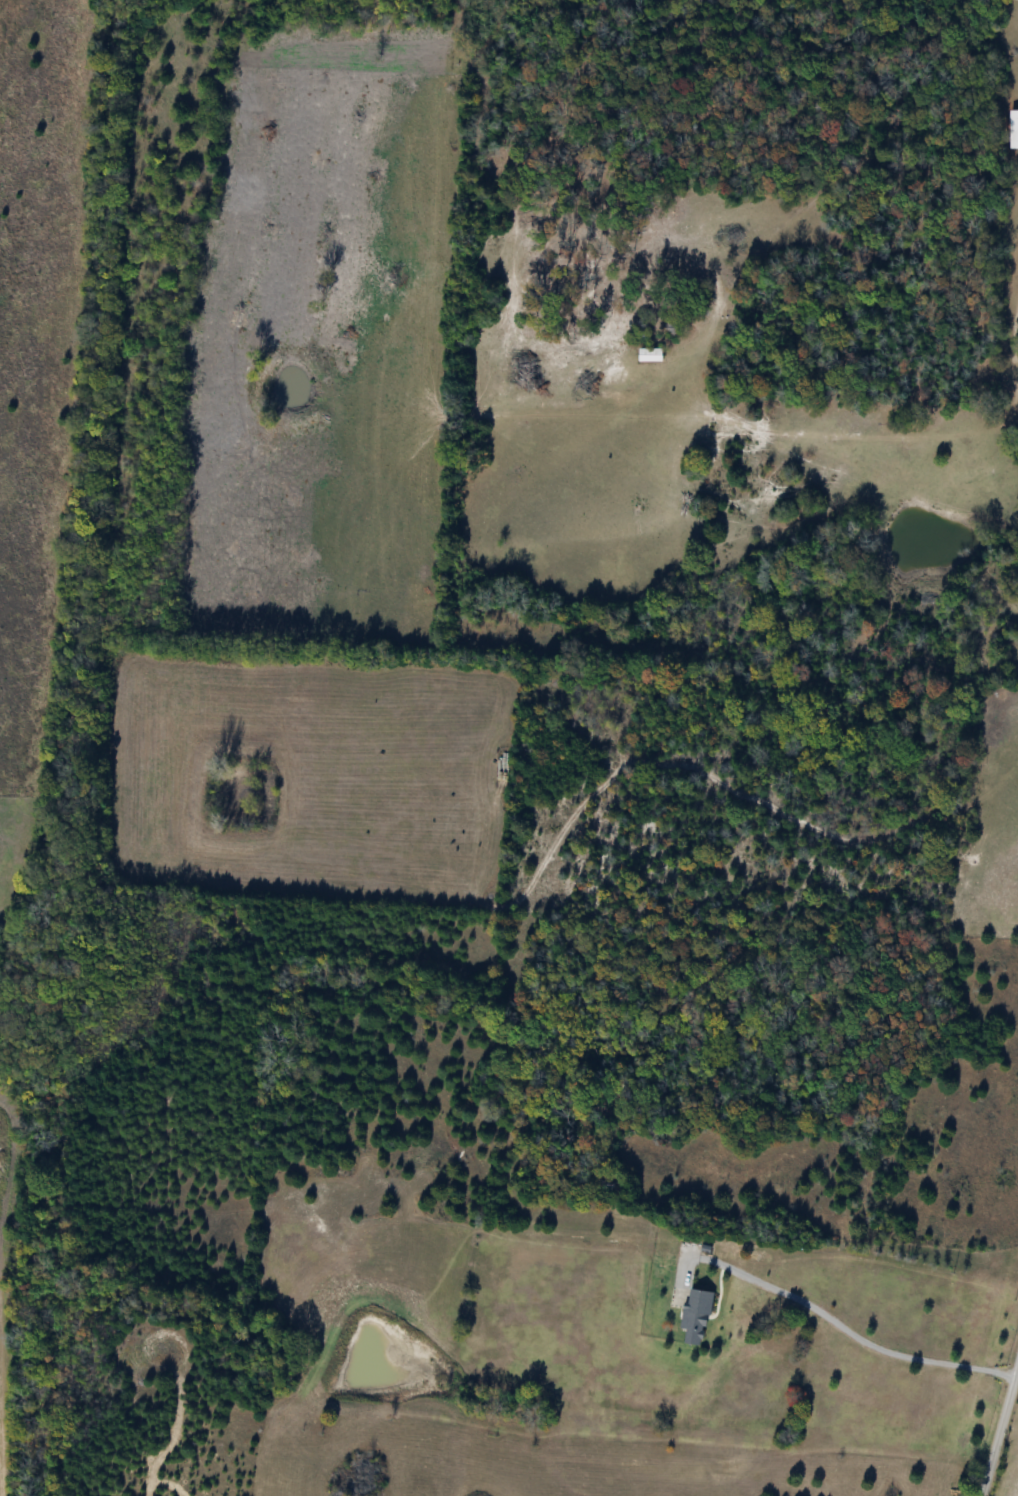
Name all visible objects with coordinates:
building: (1012, 129)
building: (647, 354)
building: (693, 1316)
road: (859, 1337)
road: (999, 1427)

